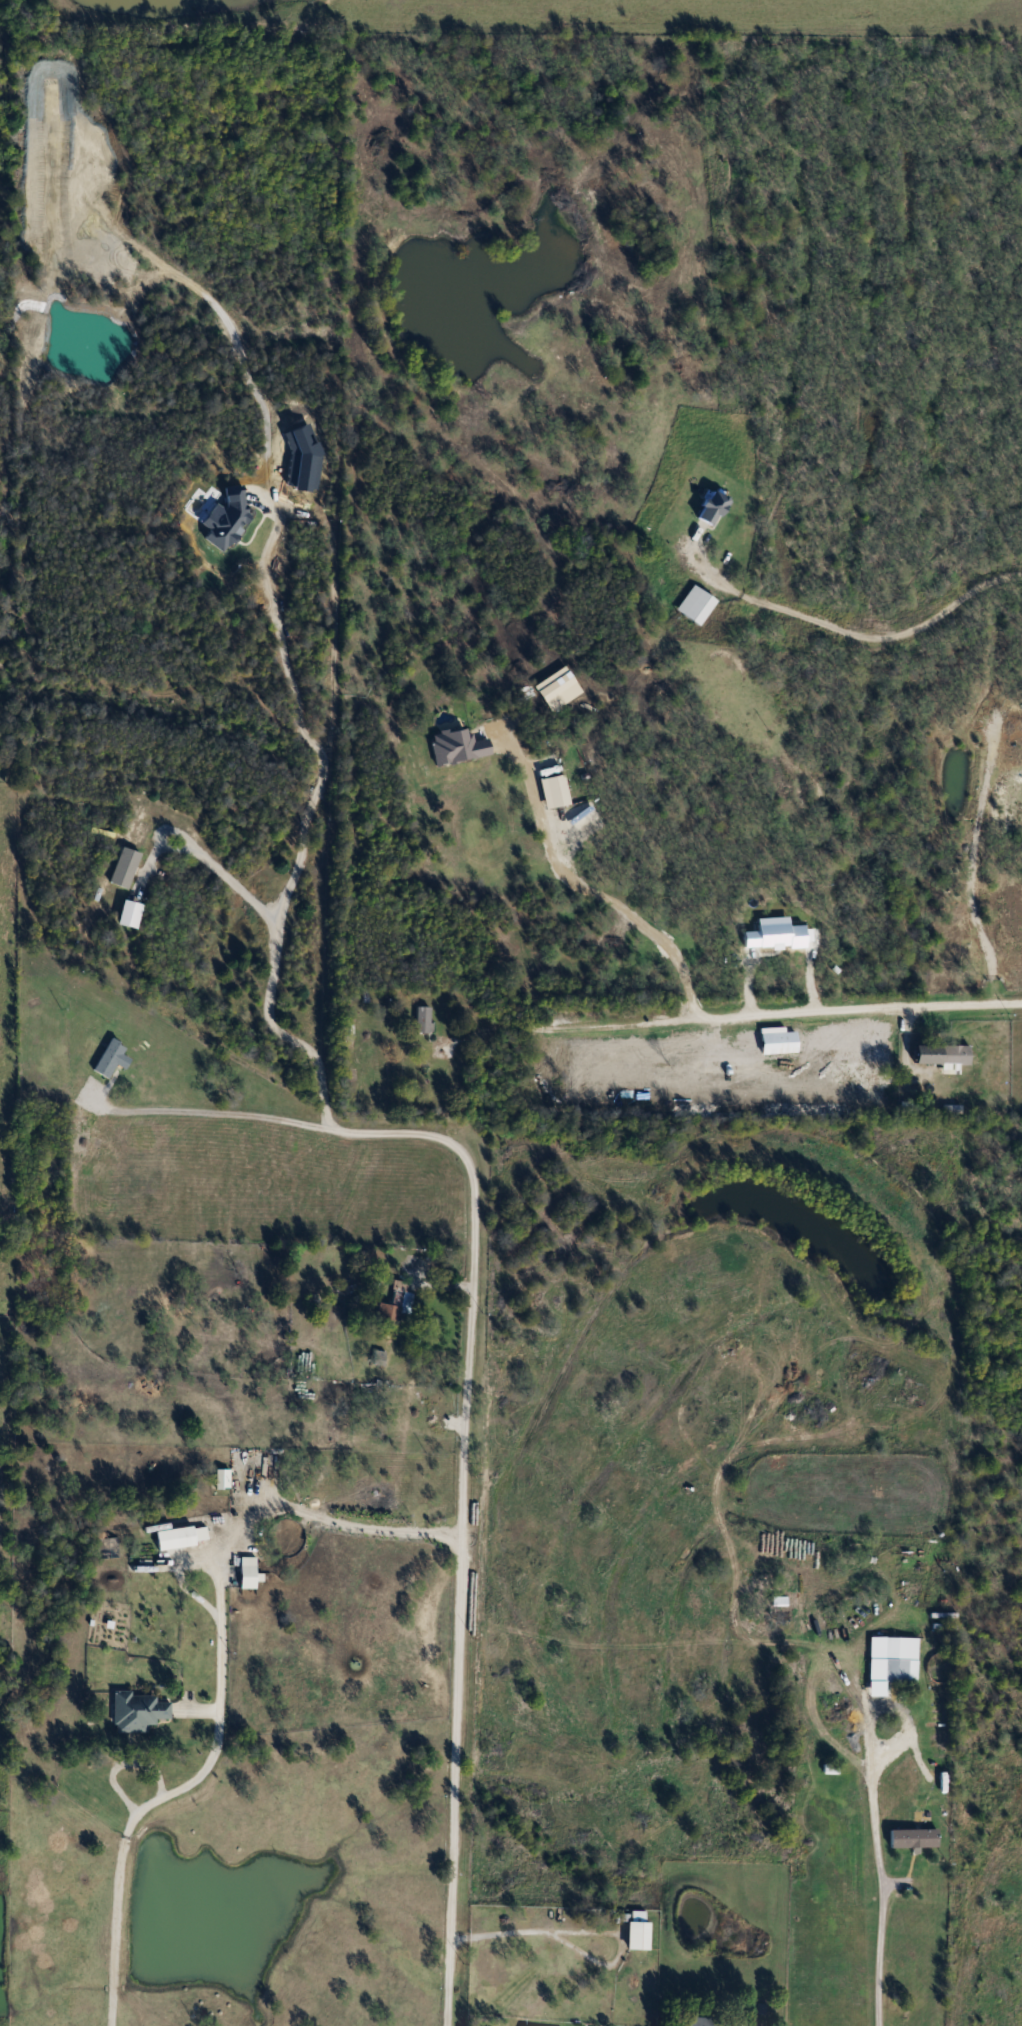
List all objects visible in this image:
building: (716, 506)
building: (699, 604)
road: (852, 631)
road: (237, 891)
road: (585, 897)
road: (750, 1015)
building: (426, 1020)
building: (775, 1043)
building: (938, 1057)
building: (113, 1058)
road: (230, 1118)
road: (474, 1217)
building: (398, 1304)
building: (177, 1538)
building: (250, 1572)
building: (776, 1602)
building: (899, 1660)
road: (220, 1679)
building: (140, 1711)
building: (917, 1837)
road: (881, 1886)
building: (641, 1930)
road: (502, 1938)
building: (717, 2021)

